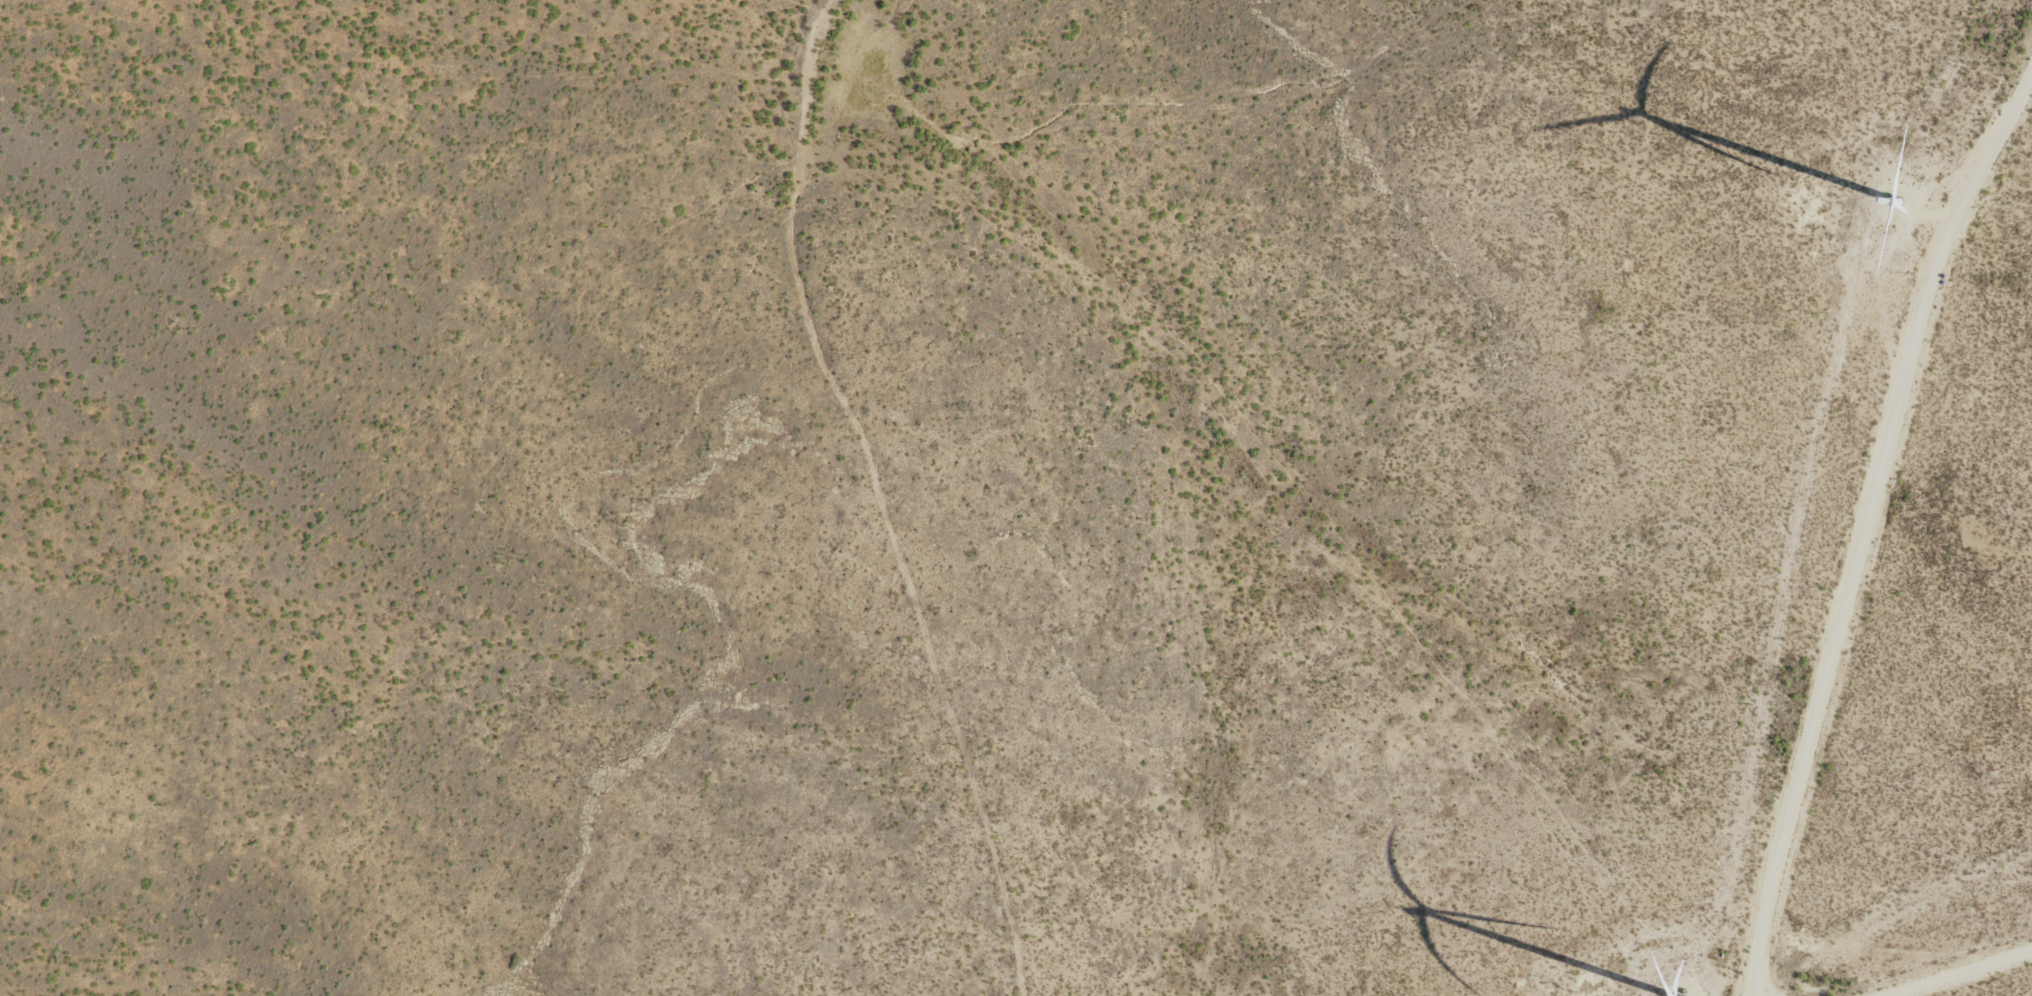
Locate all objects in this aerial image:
wind turbine: (1883, 199)

